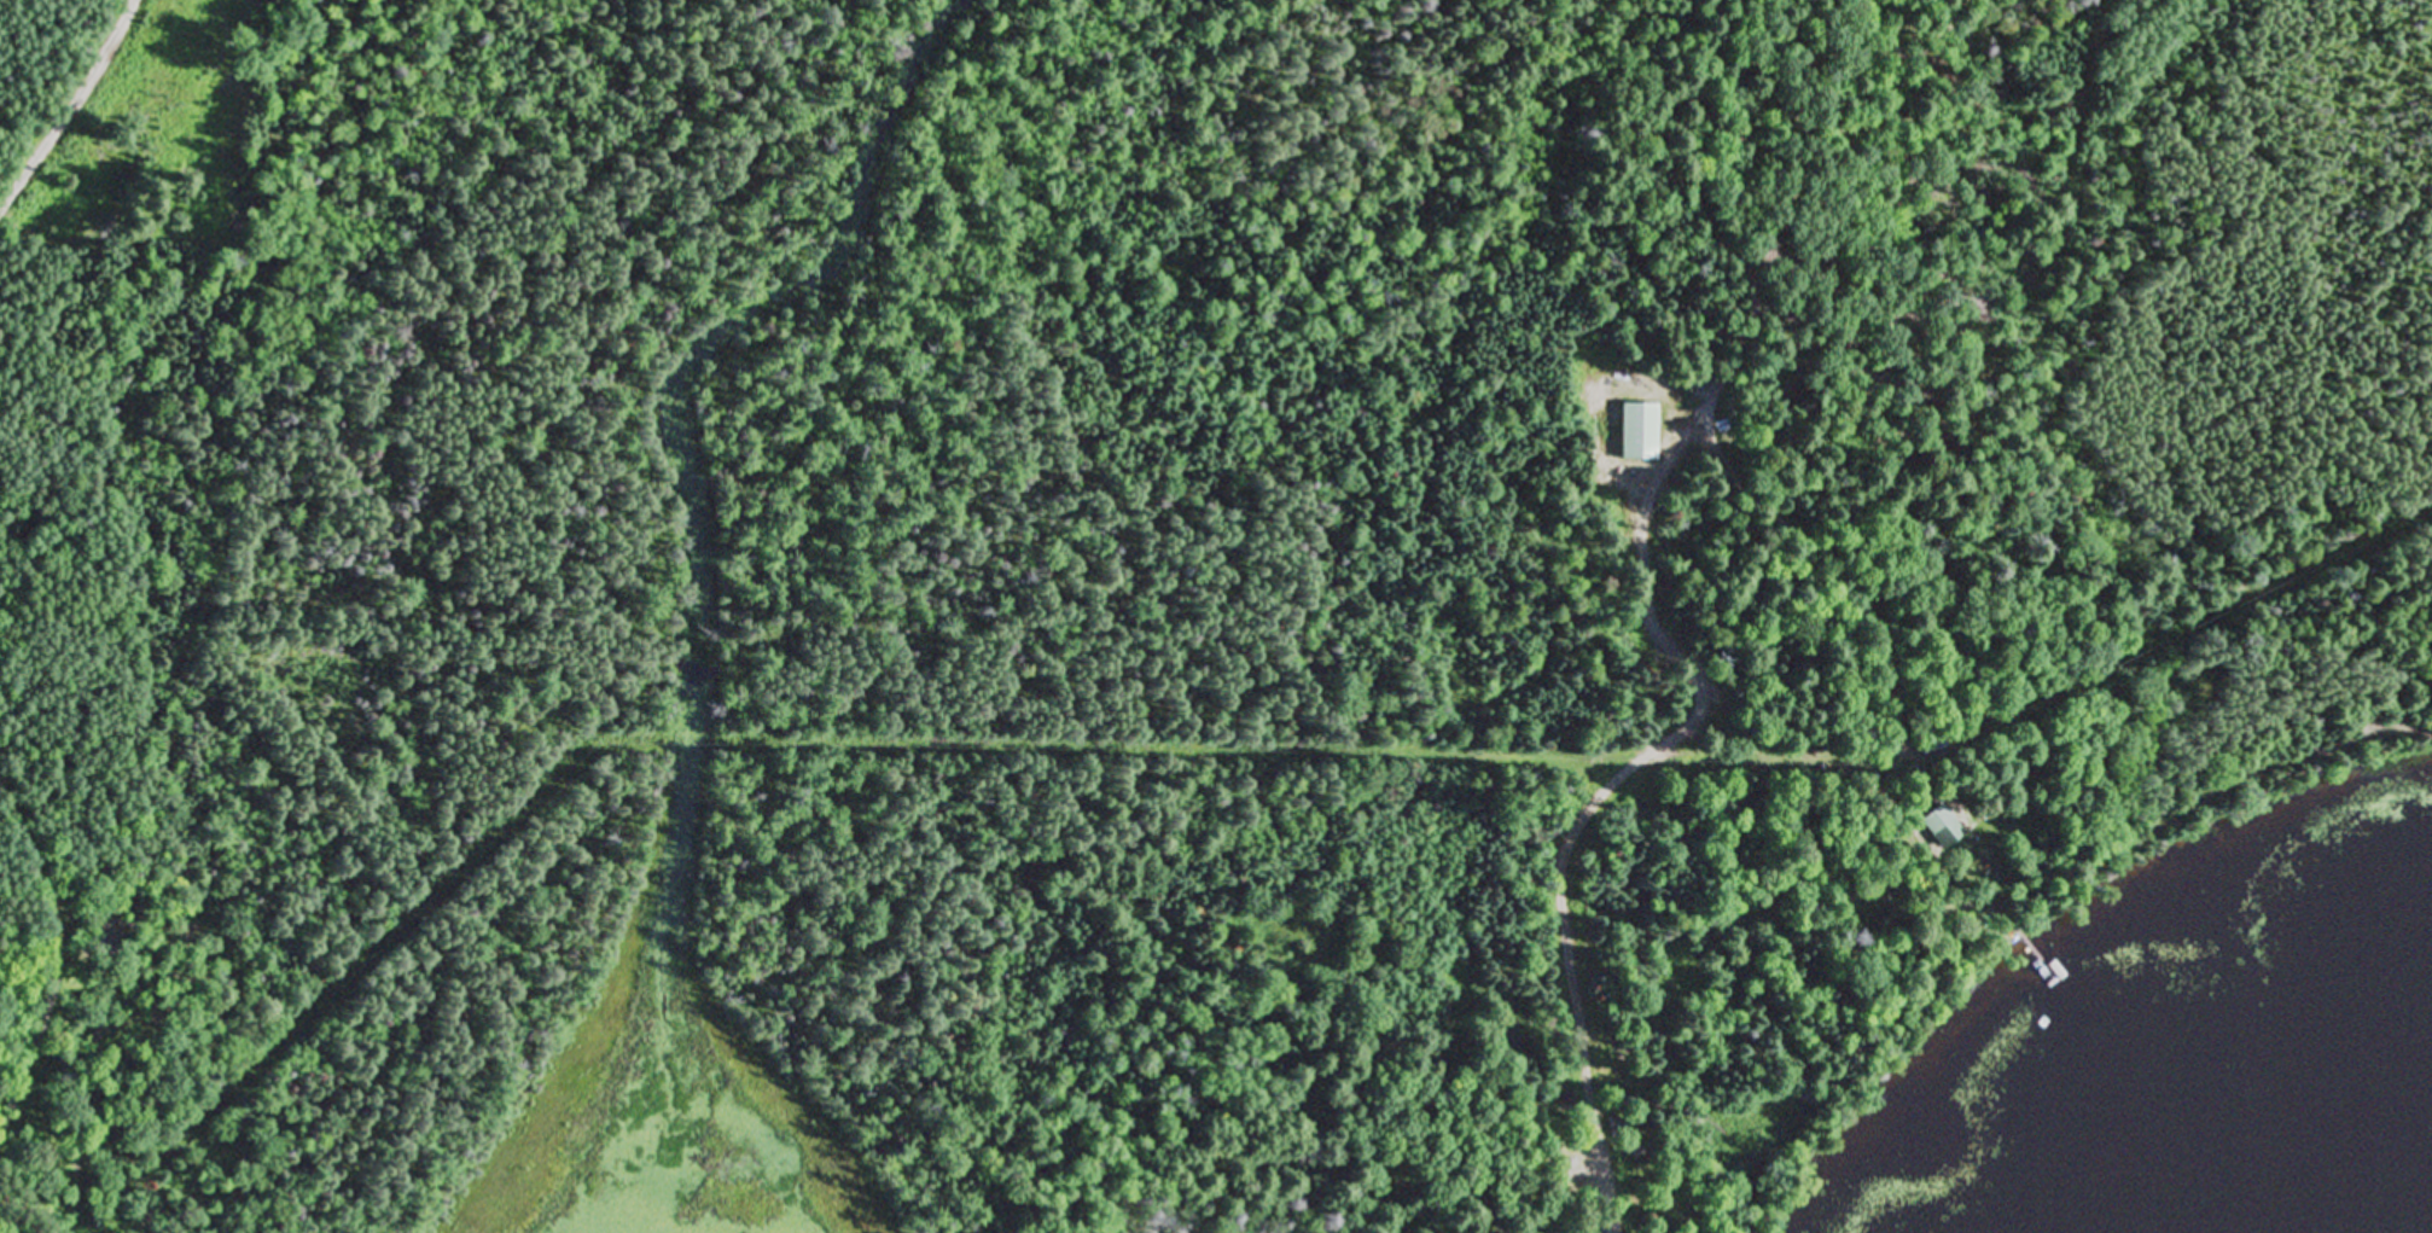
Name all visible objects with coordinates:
road: (66, 109)
building: (1639, 432)
building: (1933, 827)
road: (56, 964)

